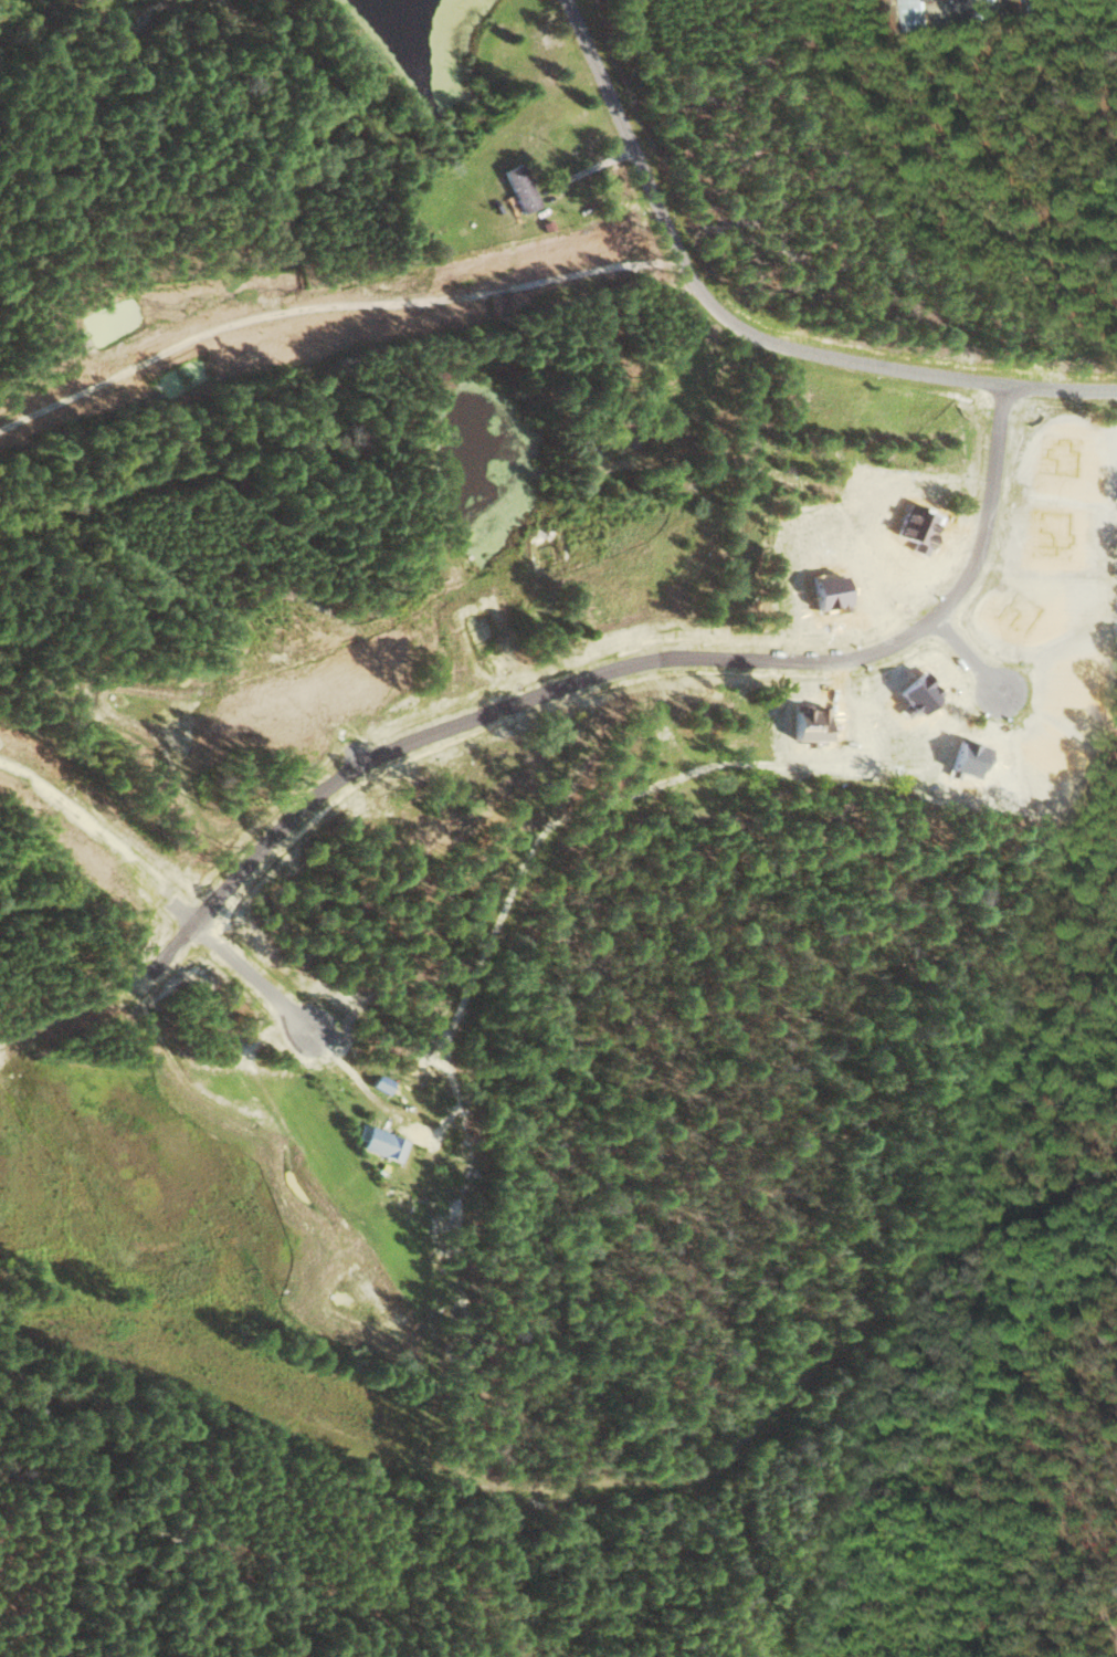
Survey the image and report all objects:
building: (915, 13)
building: (523, 187)
road: (741, 334)
road: (731, 762)
building: (383, 1083)
building: (384, 1144)
road: (203, 1564)

